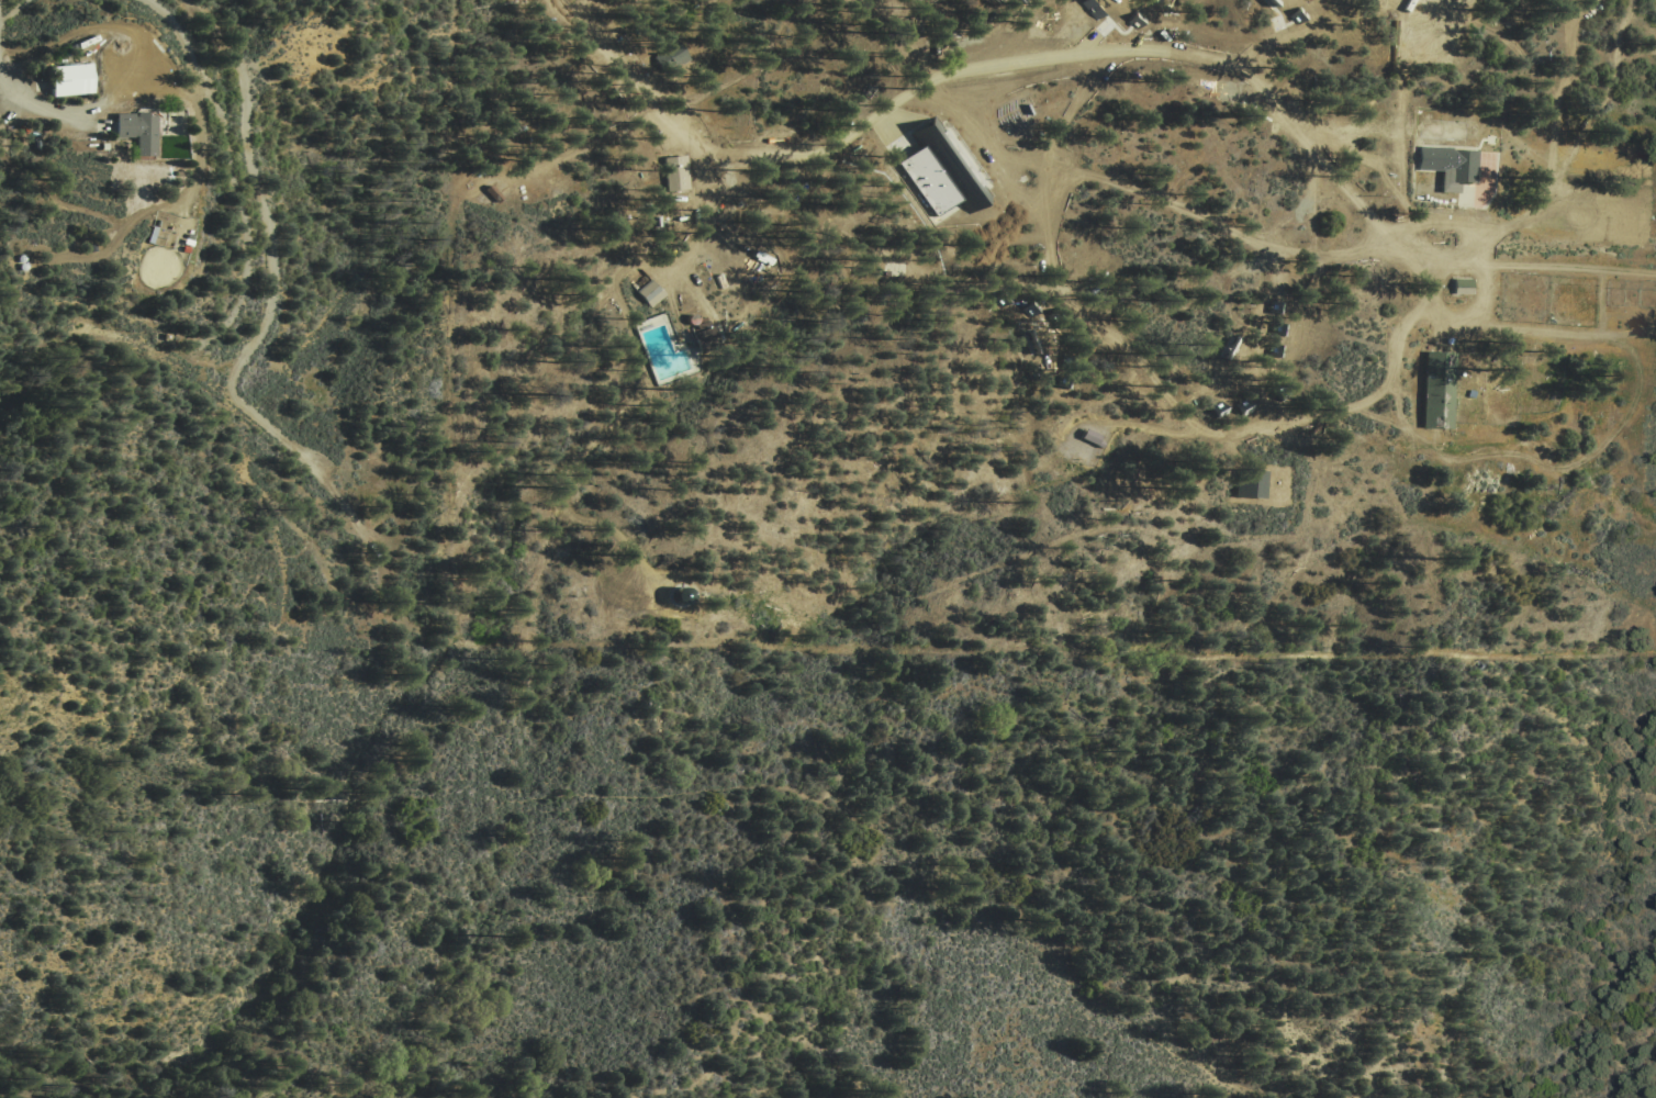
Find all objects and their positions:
building: (1094, 4)
building: (1071, 7)
building: (1129, 11)
building: (1022, 24)
building: (1425, 36)
building: (672, 53)
road: (194, 64)
building: (74, 79)
road: (40, 110)
building: (138, 133)
road: (987, 156)
building: (1446, 161)
building: (675, 170)
road: (269, 239)
road: (1562, 251)
building: (1458, 287)
building: (650, 291)
building: (1436, 390)
building: (1090, 434)
building: (1247, 485)

